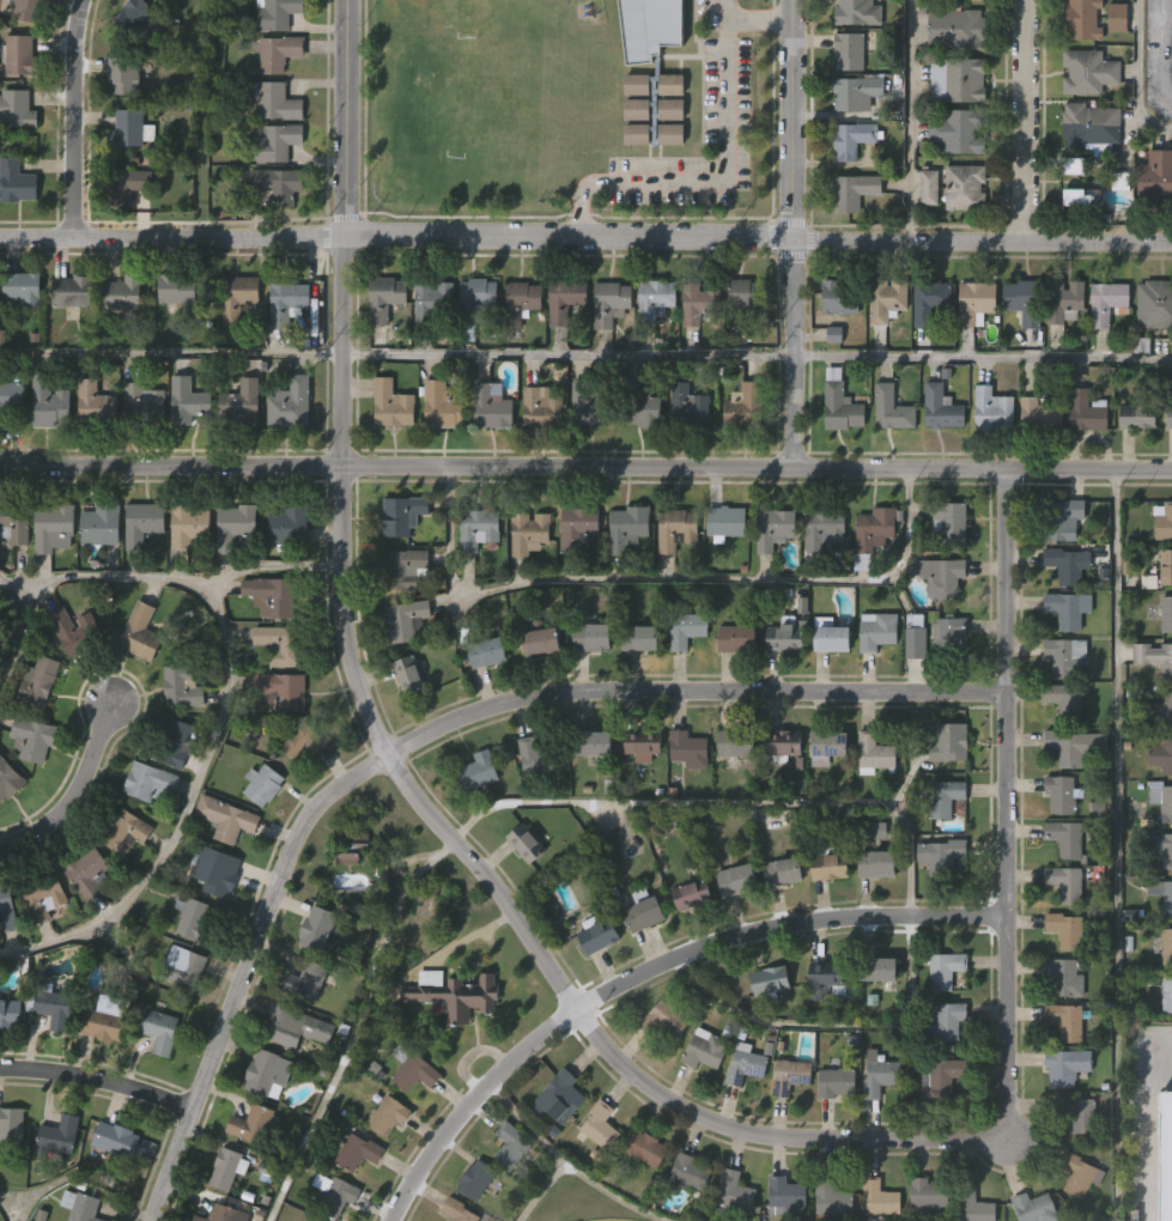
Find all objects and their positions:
building: (29, 11)
building: (858, 12)
building: (277, 13)
building: (160, 14)
building: (134, 17)
building: (1101, 18)
building: (1119, 18)
building: (1085, 19)
building: (651, 28)
building: (959, 29)
building: (876, 41)
building: (850, 51)
building: (279, 53)
road: (1162, 54)
building: (19, 55)
building: (1089, 72)
building: (123, 74)
building: (960, 79)
building: (857, 91)
building: (274, 99)
building: (17, 108)
road: (69, 120)
road: (1028, 120)
road: (906, 121)
building: (1093, 124)
building: (133, 128)
building: (960, 129)
building: (631, 135)
building: (666, 135)
building: (856, 138)
building: (278, 141)
building: (14, 159)
building: (666, 159)
building: (631, 160)
building: (1156, 175)
road: (715, 177)
building: (16, 180)
building: (127, 183)
building: (278, 183)
building: (631, 184)
building: (666, 184)
building: (930, 184)
building: (966, 187)
building: (856, 189)
building: (1079, 196)
building: (1153, 226)
building: (13, 232)
building: (273, 235)
road: (798, 235)
building: (122, 236)
building: (923, 237)
building: (959, 237)
road: (585, 241)
building: (849, 242)
building: (1075, 248)
building: (23, 286)
building: (176, 287)
building: (72, 290)
building: (122, 291)
building: (840, 296)
building: (238, 297)
building: (385, 297)
building: (476, 297)
building: (655, 298)
building: (564, 299)
building: (888, 299)
building: (931, 299)
building: (1026, 299)
building: (287, 300)
building: (432, 300)
building: (521, 300)
building: (700, 300)
building: (742, 300)
building: (1065, 300)
building: (611, 302)
building: (978, 302)
building: (1109, 302)
building: (1155, 303)
building: (18, 339)
building: (67, 339)
building: (172, 340)
building: (737, 342)
building: (117, 344)
building: (563, 344)
building: (473, 345)
building: (232, 347)
building: (834, 347)
building: (379, 348)
building: (881, 348)
building: (650, 350)
road: (399, 351)
building: (426, 351)
building: (1058, 351)
building: (281, 352)
building: (516, 352)
building: (694, 352)
building: (924, 352)
building: (1018, 352)
building: (605, 353)
building: (971, 353)
road: (985, 353)
building: (1101, 353)
building: (1150, 354)
building: (11, 401)
building: (187, 401)
building: (242, 401)
building: (95, 402)
building: (49, 403)
building: (144, 403)
building: (291, 403)
building: (393, 403)
building: (442, 403)
building: (591, 403)
building: (640, 403)
building: (842, 403)
building: (492, 405)
building: (746, 405)
building: (688, 406)
building: (544, 407)
building: (943, 407)
building: (994, 407)
building: (893, 408)
building: (1086, 411)
building: (1042, 414)
building: (1140, 415)
building: (1170, 417)
building: (8, 447)
building: (138, 451)
building: (182, 451)
building: (90, 452)
building: (237, 452)
building: (582, 452)
building: (44, 454)
building: (285, 454)
building: (387, 455)
building: (736, 455)
building: (486, 456)
building: (684, 456)
building: (436, 457)
building: (535, 457)
building: (638, 458)
building: (837, 458)
building: (886, 458)
building: (935, 458)
building: (988, 460)
building: (1082, 461)
building: (1034, 464)
road: (585, 467)
building: (1132, 467)
building: (1166, 468)
building: (402, 514)
building: (1064, 518)
building: (948, 520)
building: (728, 521)
building: (1162, 521)
building: (142, 522)
building: (14, 523)
building: (188, 526)
building: (235, 526)
building: (53, 527)
building: (101, 527)
building: (289, 527)
building: (630, 527)
building: (479, 528)
building: (578, 528)
building: (776, 528)
building: (825, 528)
building: (678, 529)
building: (530, 531)
building: (870, 534)
road: (275, 561)
building: (1065, 565)
building: (1166, 566)
building: (405, 569)
building: (721, 571)
building: (138, 573)
road: (666, 573)
building: (96, 575)
building: (184, 575)
building: (12, 576)
building: (229, 576)
building: (283, 576)
building: (943, 576)
building: (572, 577)
building: (48, 578)
building: (623, 578)
building: (672, 578)
building: (769, 578)
building: (818, 579)
building: (473, 581)
building: (868, 582)
building: (524, 583)
building: (273, 596)
building: (1069, 608)
building: (1167, 614)
building: (406, 620)
building: (72, 626)
building: (688, 628)
building: (879, 630)
building: (140, 633)
building: (591, 634)
building: (832, 634)
building: (642, 637)
building: (930, 637)
building: (541, 638)
building: (739, 638)
building: (787, 638)
building: (281, 644)
building: (487, 651)
building: (1068, 656)
building: (1155, 657)
building: (409, 674)
building: (681, 679)
building: (68, 680)
building: (872, 681)
building: (37, 682)
building: (135, 682)
building: (183, 686)
building: (779, 686)
building: (825, 686)
building: (585, 687)
building: (634, 688)
building: (731, 688)
building: (924, 688)
building: (283, 690)
building: (535, 692)
building: (1067, 700)
building: (481, 703)
building: (1156, 716)
road: (218, 721)
building: (403, 724)
road: (430, 729)
building: (32, 737)
building: (277, 740)
building: (175, 742)
building: (302, 742)
building: (951, 742)
building: (596, 743)
building: (639, 743)
building: (731, 743)
building: (783, 743)
building: (828, 746)
building: (1076, 746)
building: (690, 749)
building: (875, 753)
building: (1161, 754)
building: (539, 757)
road: (393, 760)
building: (478, 771)
building: (8, 779)
building: (152, 780)
building: (262, 784)
building: (28, 790)
road: (74, 790)
building: (170, 791)
building: (777, 791)
building: (588, 792)
building: (730, 792)
building: (297, 794)
building: (637, 794)
building: (1062, 794)
building: (822, 796)
building: (946, 797)
building: (1162, 797)
building: (682, 798)
building: (868, 803)
building: (532, 807)
road: (1009, 810)
building: (229, 818)
building: (474, 820)
building: (6, 830)
building: (145, 831)
building: (123, 832)
building: (257, 834)
building: (1068, 839)
building: (527, 843)
building: (1053, 843)
road: (1116, 845)
building: (1164, 852)
building: (942, 855)
building: (830, 863)
building: (878, 864)
building: (784, 871)
building: (89, 873)
building: (223, 875)
building: (737, 880)
building: (120, 881)
building: (1068, 883)
building: (521, 893)
building: (1162, 893)
building: (693, 894)
building: (42, 895)
building: (346, 899)
building: (935, 903)
building: (6, 909)
building: (870, 913)
building: (644, 915)
building: (824, 916)
building: (195, 921)
building: (777, 921)
building: (81, 922)
building: (218, 924)
building: (318, 929)
building: (731, 929)
building: (1067, 930)
building: (595, 934)
building: (686, 943)
building: (1167, 947)
building: (38, 948)
building: (4, 960)
building: (638, 964)
building: (184, 968)
building: (945, 968)
building: (876, 970)
road: (652, 973)
building: (1065, 977)
building: (828, 979)
building: (309, 980)
building: (771, 983)
building: (593, 986)
building: (1165, 994)
building: (455, 996)
building: (50, 1006)
building: (11, 1014)
building: (178, 1016)
building: (666, 1017)
building: (873, 1019)
building: (105, 1020)
building: (1069, 1020)
building: (947, 1021)
road: (357, 1025)
building: (296, 1027)
road: (836, 1027)
building: (820, 1028)
building: (765, 1029)
building: (160, 1031)
building: (448, 1044)
building: (1164, 1044)
building: (706, 1050)
building: (49, 1056)
building: (7, 1063)
building: (746, 1064)
building: (1069, 1064)
building: (660, 1069)
building: (99, 1070)
building: (268, 1074)
building: (415, 1074)
building: (876, 1074)
building: (788, 1076)
building: (942, 1077)
building: (156, 1080)
building: (837, 1081)
road: (99, 1083)
building: (558, 1097)
building: (699, 1099)
building: (1081, 1110)
building: (740, 1113)
building: (391, 1114)
building: (1061, 1117)
building: (251, 1123)
building: (409, 1123)
building: (874, 1123)
building: (11, 1124)
building: (600, 1125)
building: (784, 1125)
building: (937, 1126)
road: (1150, 1128)
building: (831, 1132)
building: (60, 1136)
building: (115, 1140)
building: (511, 1146)
building: (553, 1148)
building: (648, 1148)
building: (362, 1152)
building: (1166, 1156)
building: (382, 1166)
building: (232, 1167)
building: (691, 1171)
building: (593, 1172)
building: (247, 1173)
building: (1081, 1173)
building: (8, 1176)
road: (582, 1176)
building: (476, 1179)
building: (54, 1184)
building: (111, 1189)
building: (736, 1192)
building: (930, 1192)
building: (335, 1195)
building: (506, 1195)
building: (788, 1195)
building: (881, 1196)
building: (833, 1197)
building: (642, 1198)
building: (352, 1201)
building: (80, 1205)
building: (976, 1205)
building: (1038, 1207)
road: (8, 1209)
building: (460, 1210)
building: (681, 1213)
building: (1070, 1213)
building: (223, 1214)
building: (723, 1219)
building: (311, 1220)
park: (607, 1220)

